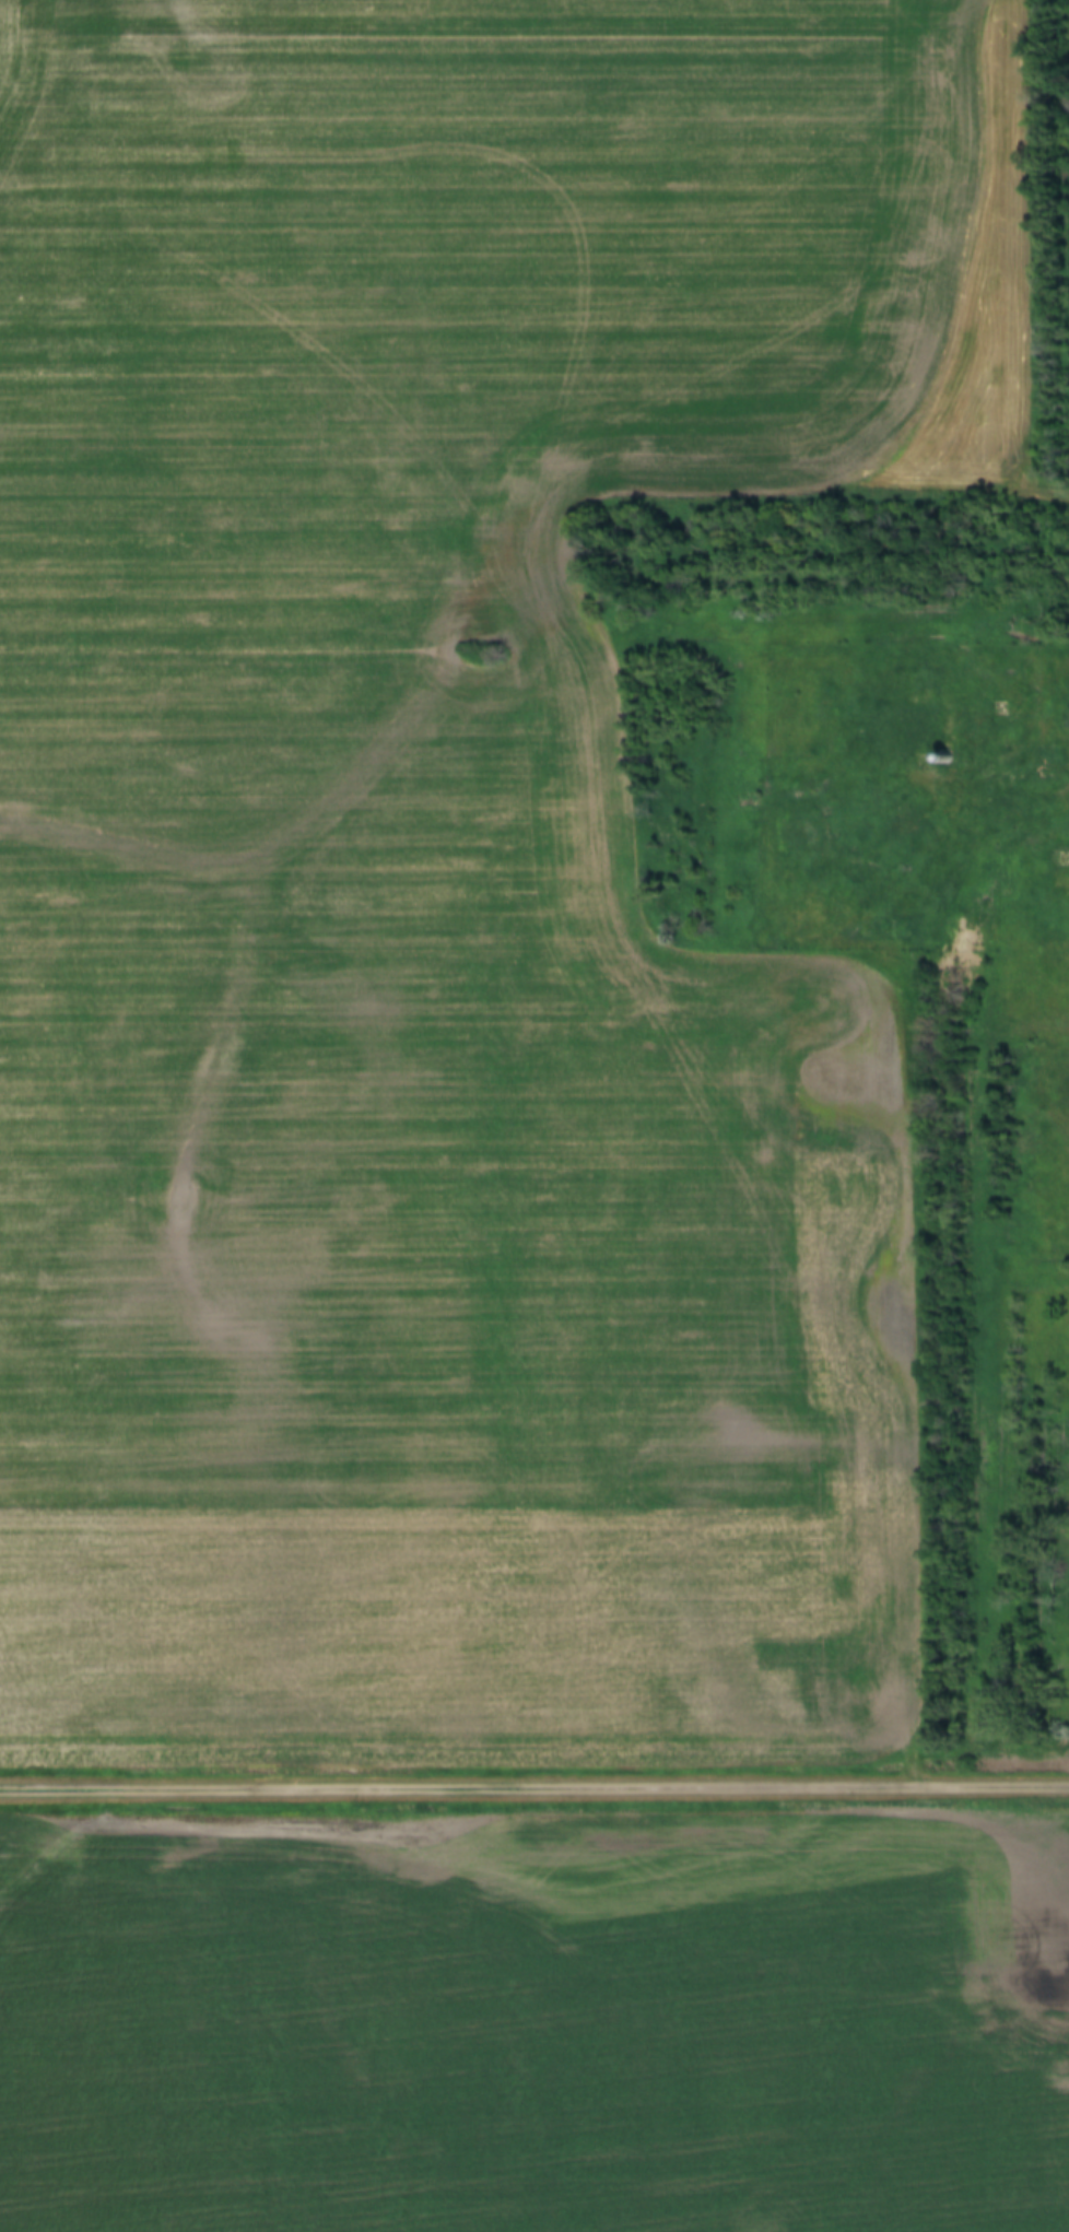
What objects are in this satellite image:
building: (932, 720)
building: (767, 750)
road: (1022, 791)
building: (1060, 858)
road: (534, 1790)

